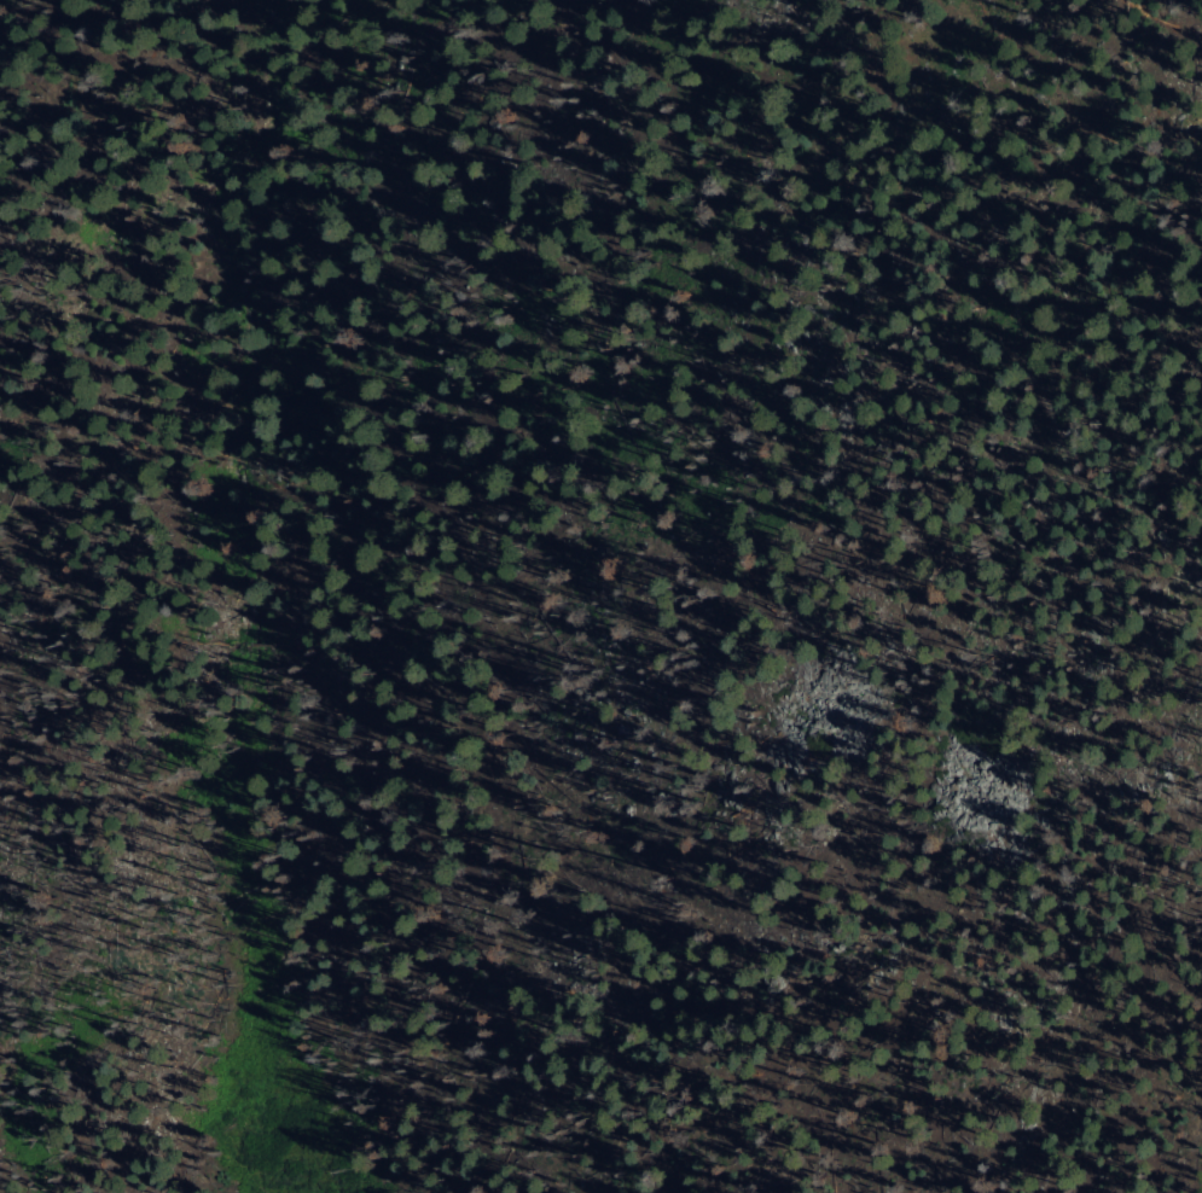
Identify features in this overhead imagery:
road: (865, 1007)

